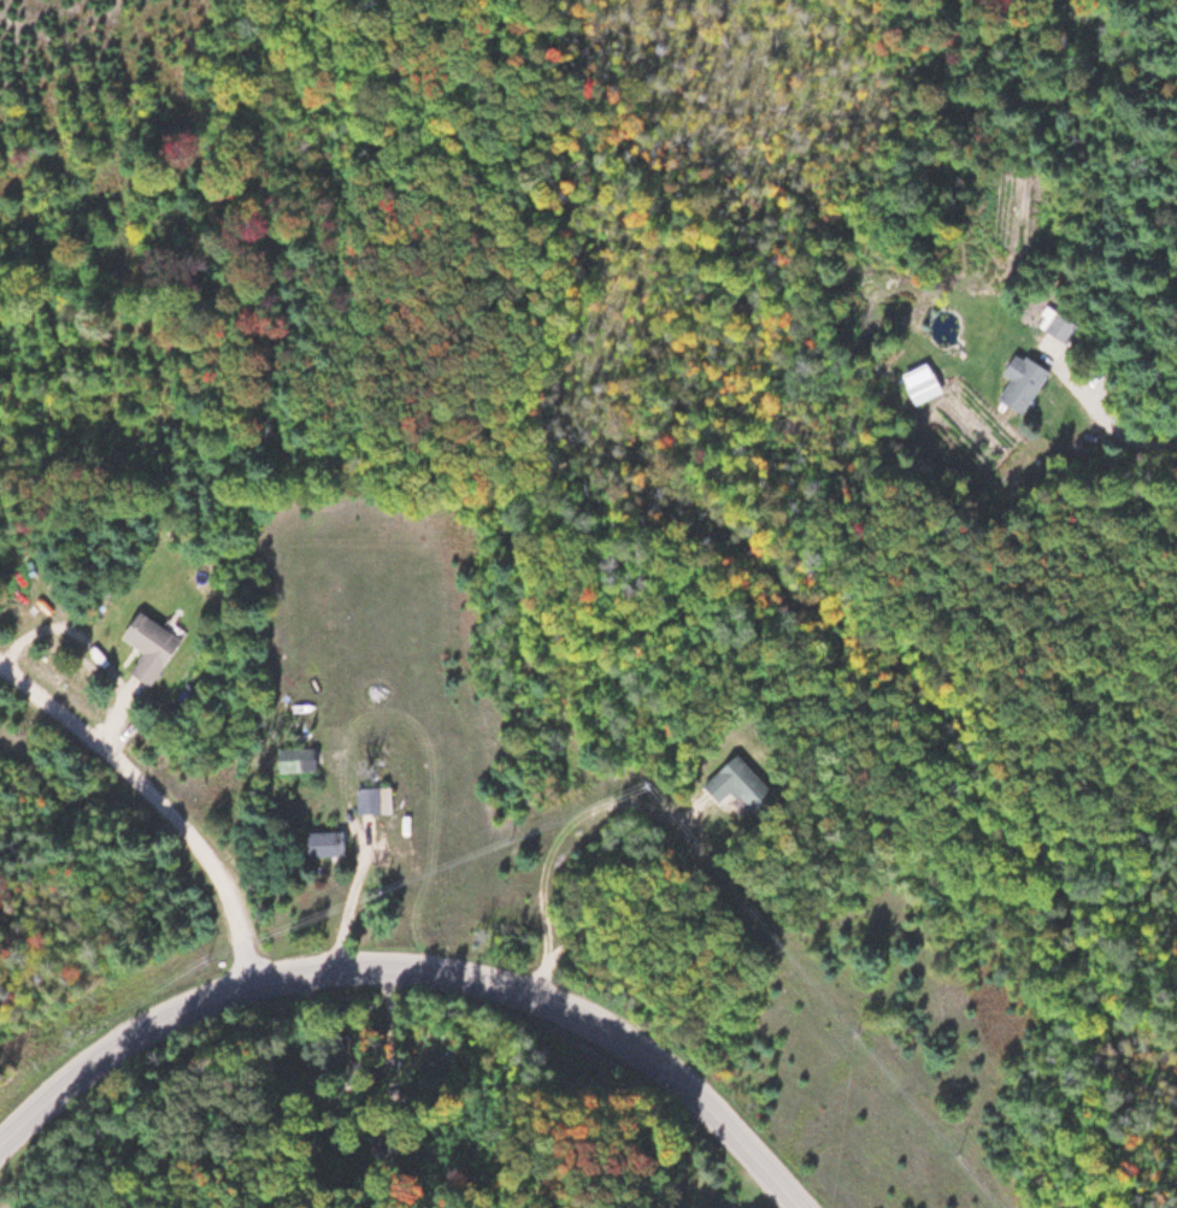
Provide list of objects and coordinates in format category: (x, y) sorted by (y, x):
building: (1054, 326)
building: (1017, 382)
building: (919, 389)
building: (157, 647)
building: (302, 758)
building: (730, 780)
building: (370, 800)
road: (161, 801)
building: (330, 842)
road: (411, 974)
building: (712, 1192)

